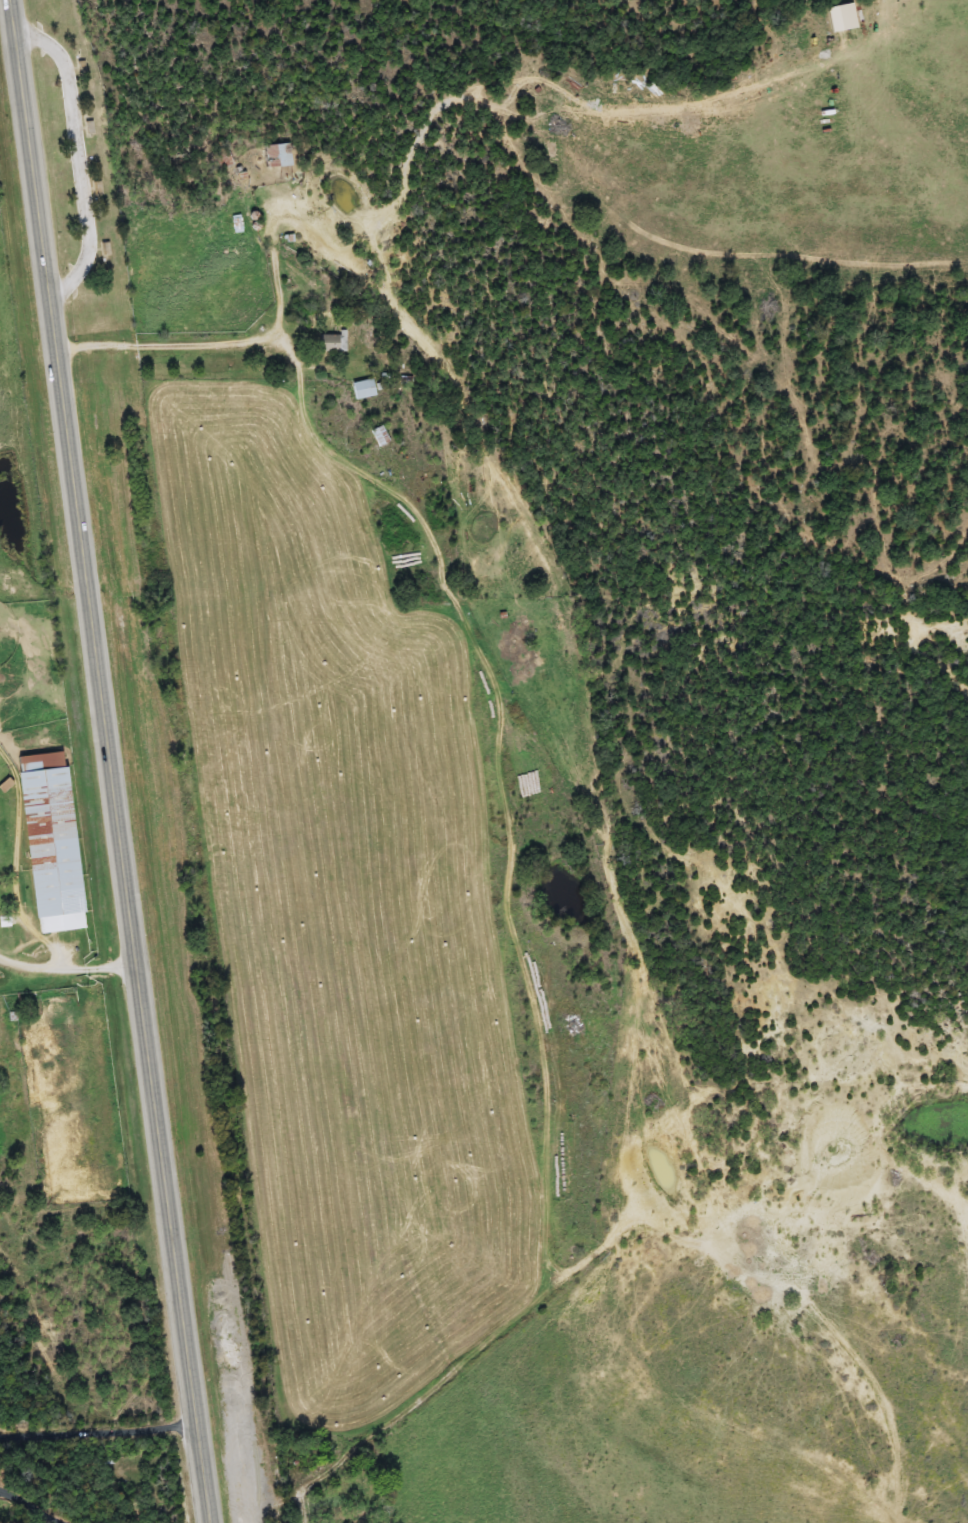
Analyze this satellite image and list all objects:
road: (81, 152)
building: (274, 155)
road: (170, 341)
building: (331, 343)
building: (362, 389)
building: (379, 436)
road: (108, 761)
railway: (176, 763)
building: (49, 842)
road: (66, 964)
road: (475, 1338)
road: (97, 1427)
road: (27, 1508)

